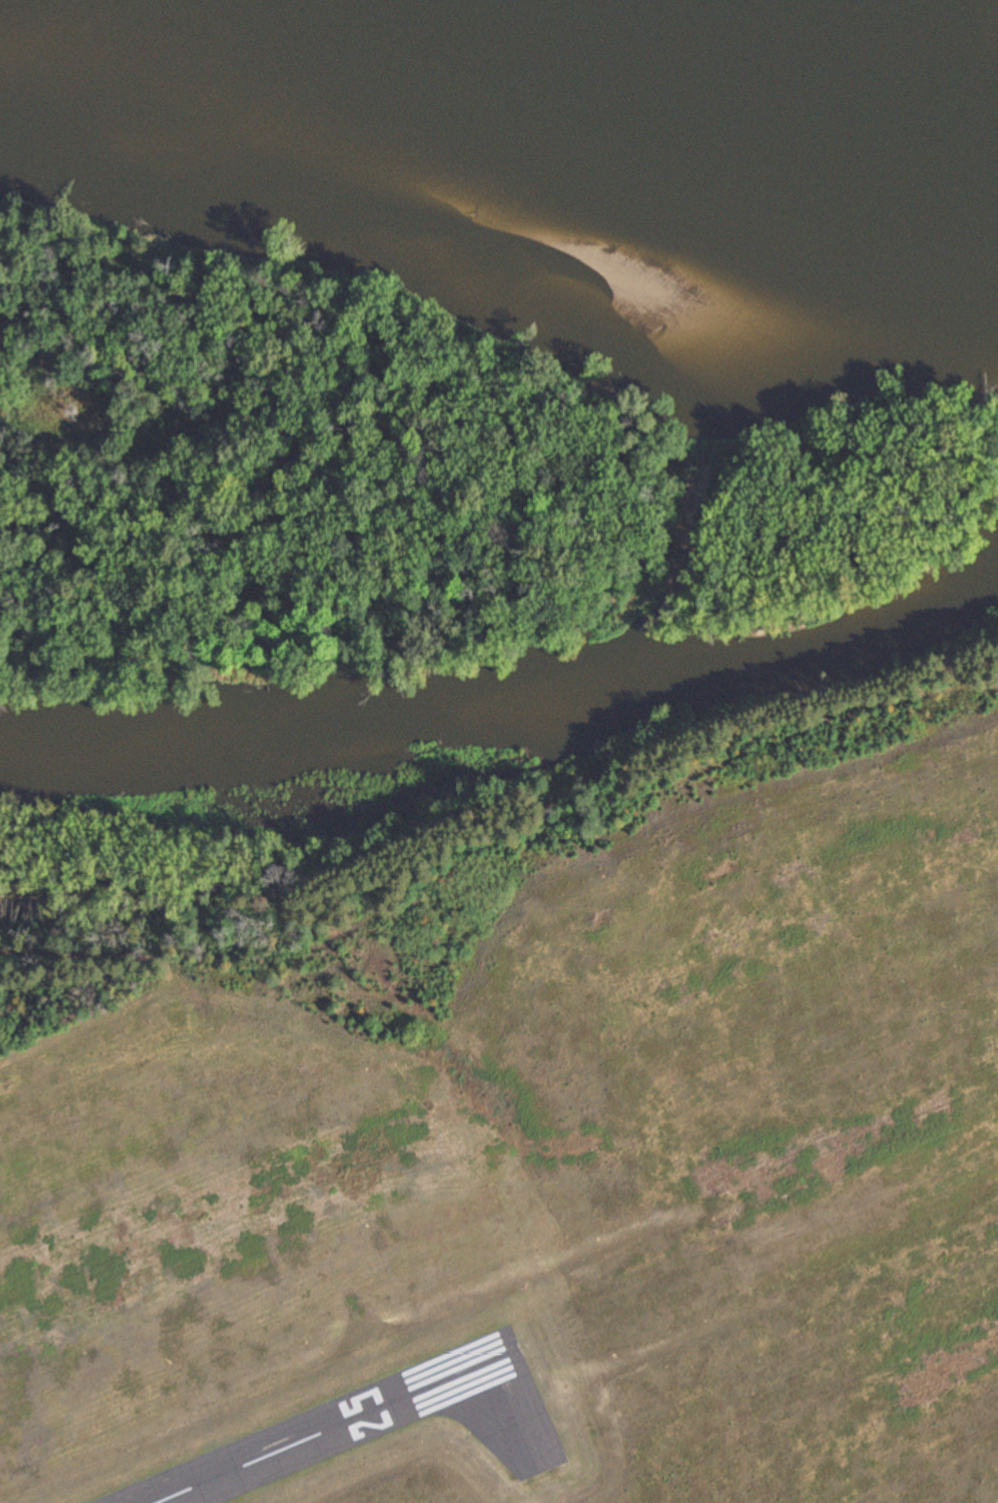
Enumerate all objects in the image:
river: (844, 28)
airport: (540, 1173)
airport runway: (332, 1427)

